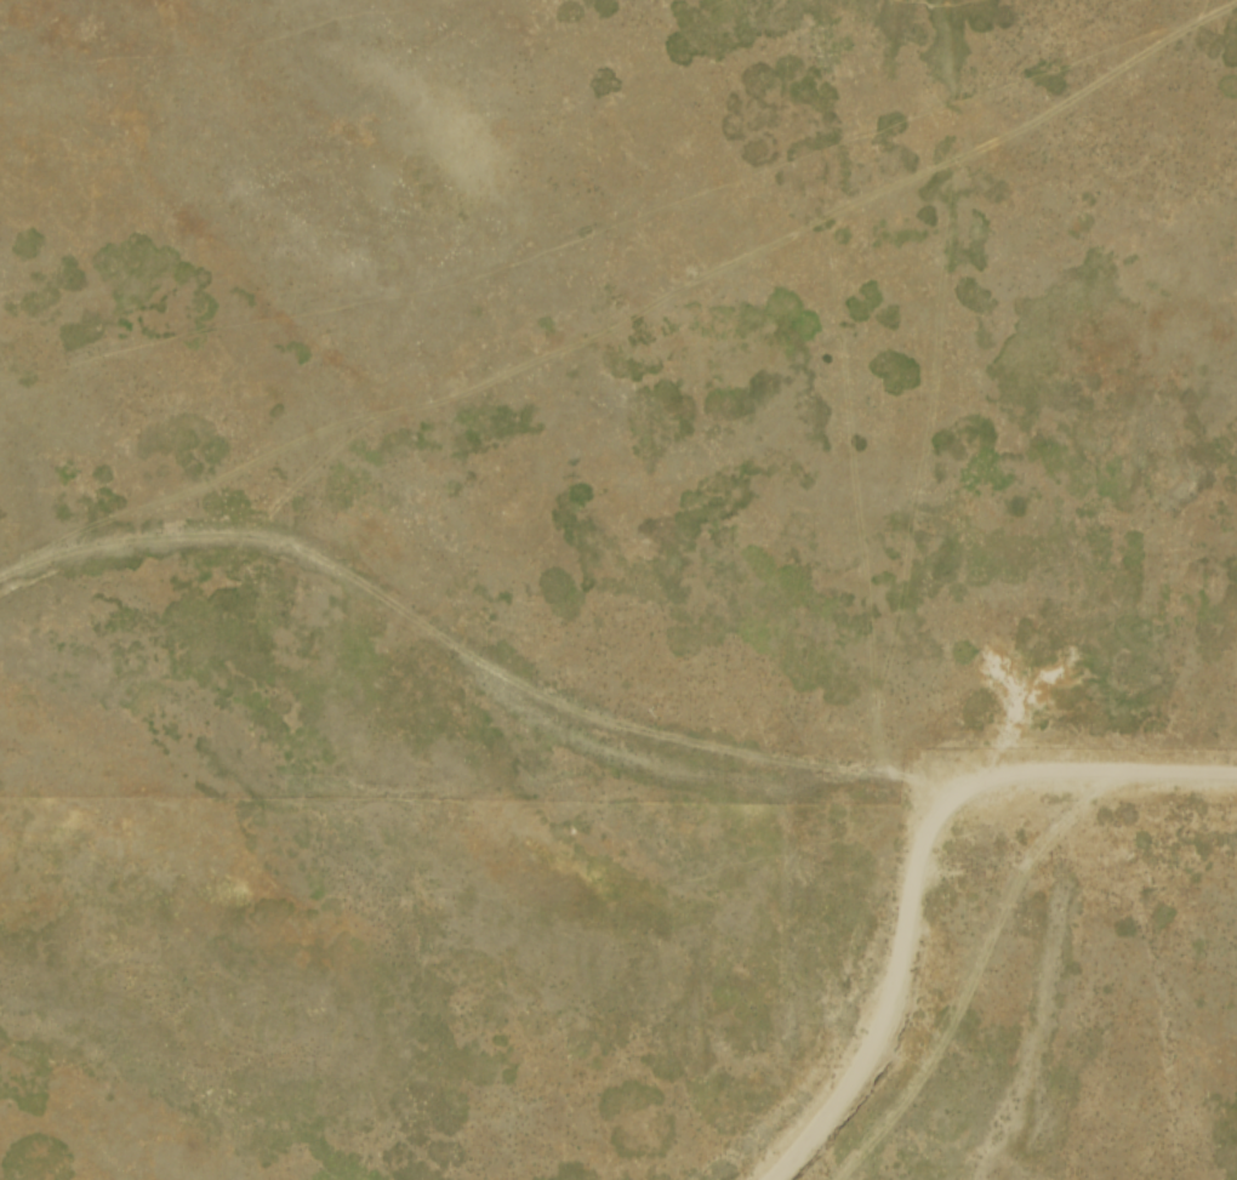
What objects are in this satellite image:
road: (1105, 769)
road: (895, 988)

